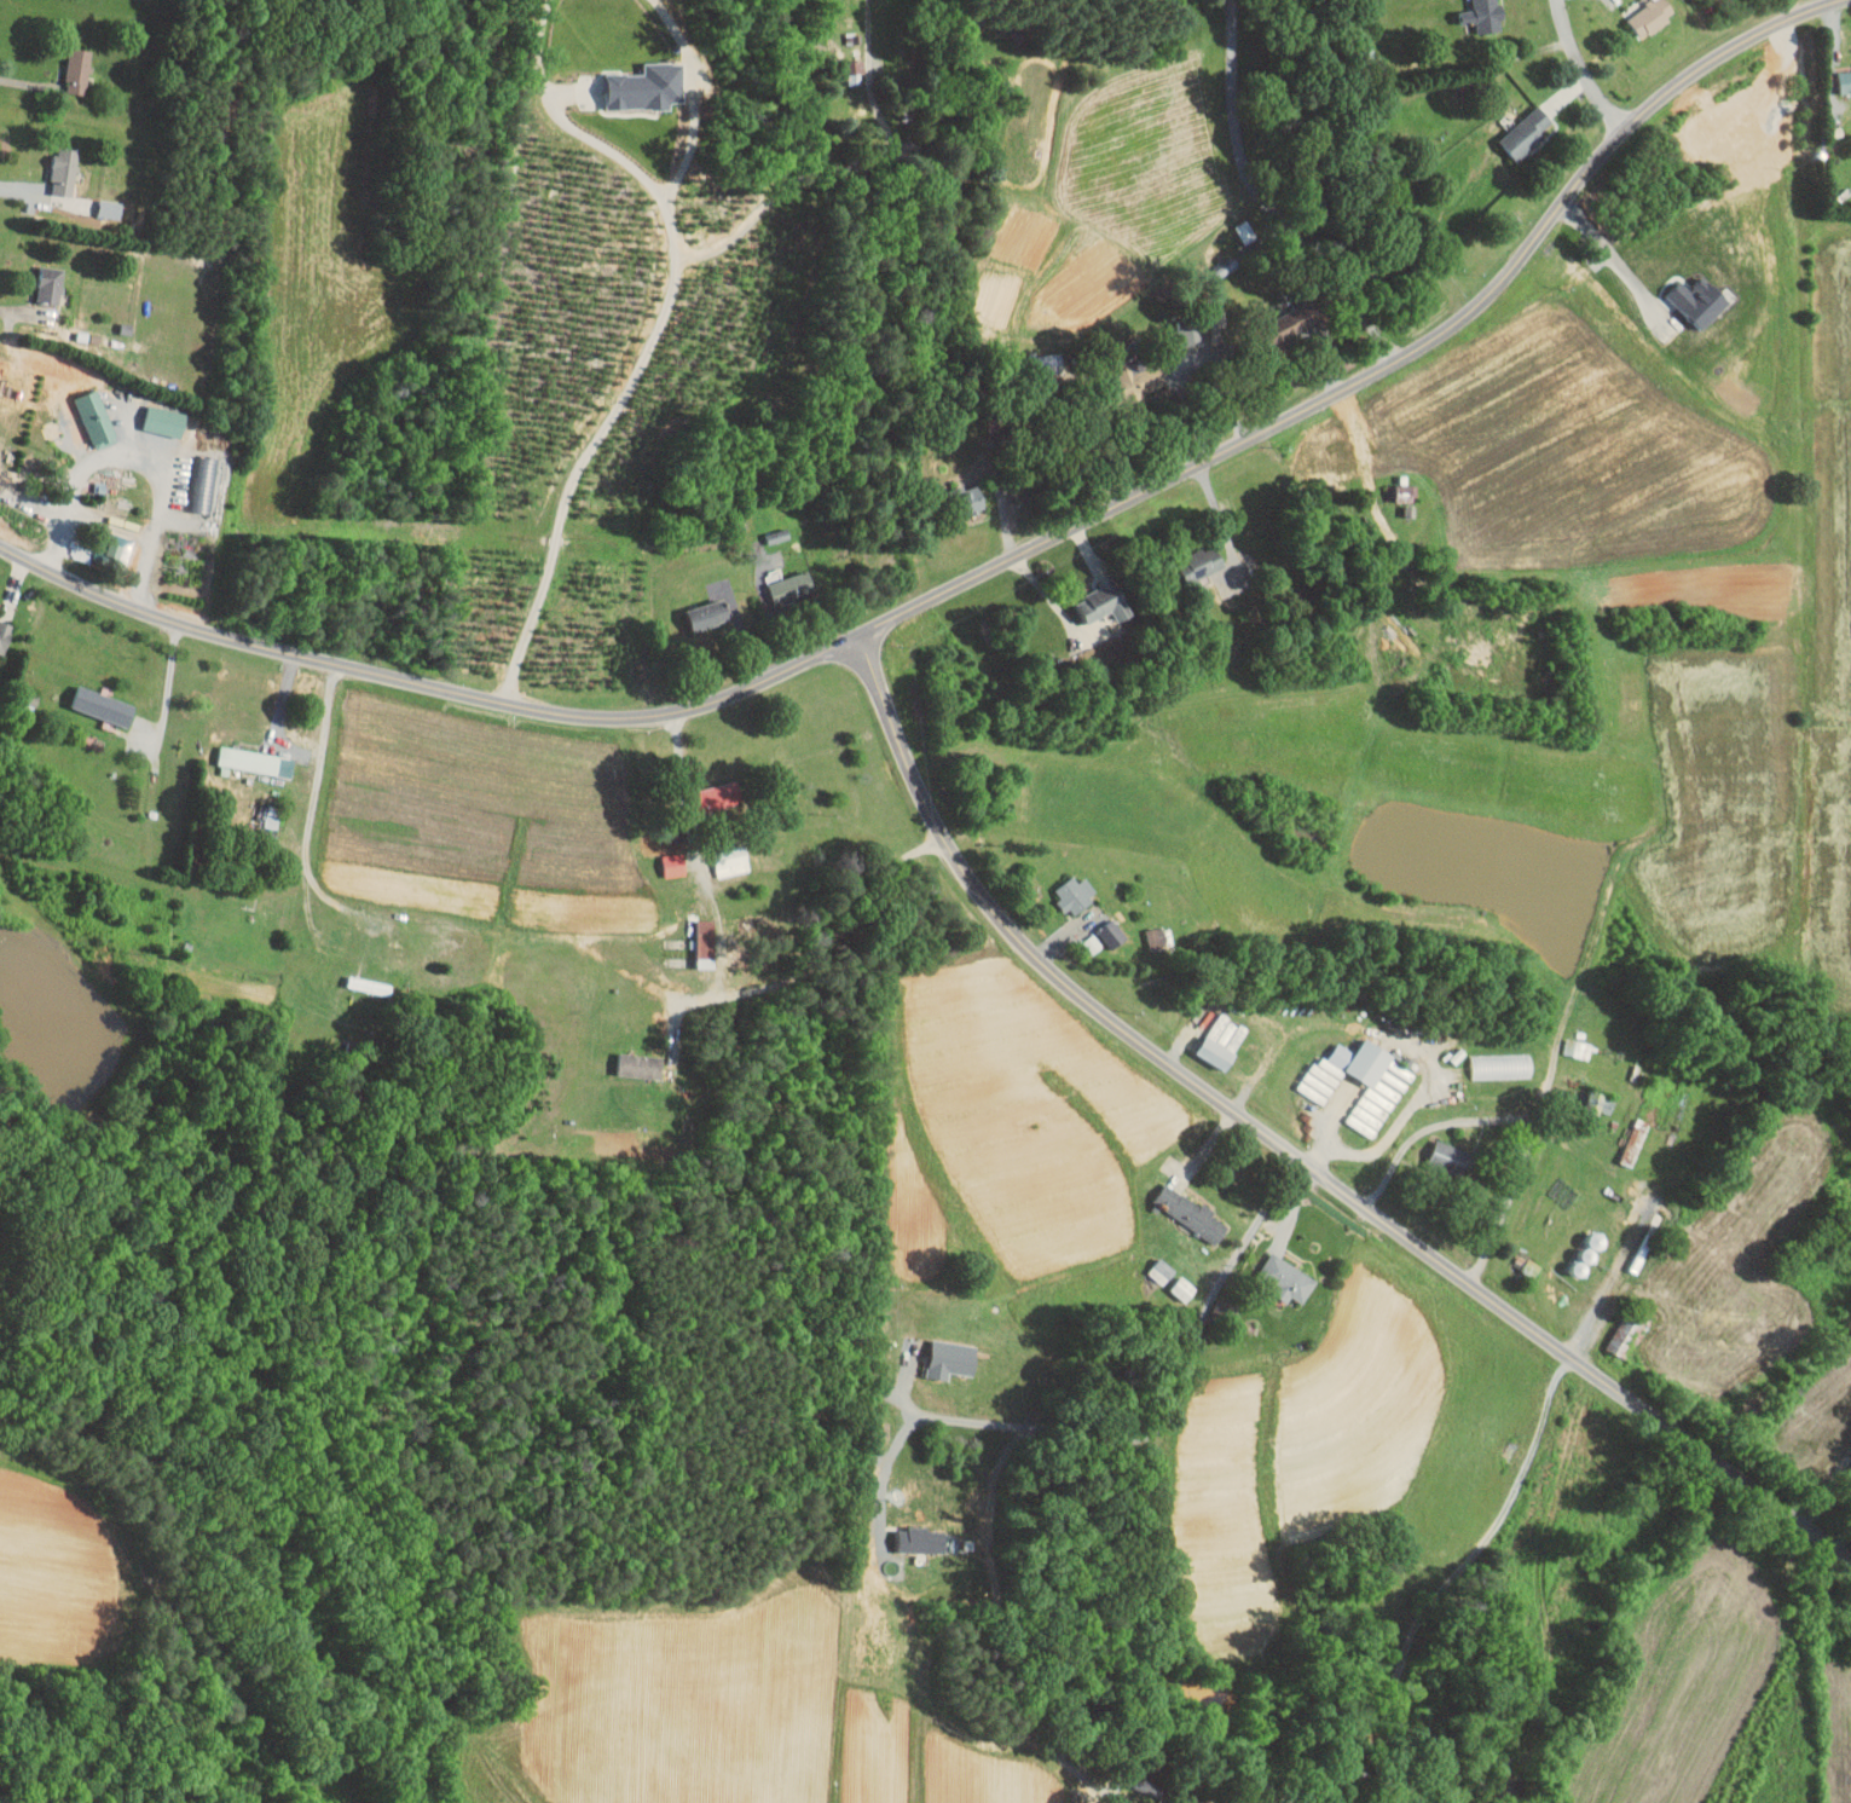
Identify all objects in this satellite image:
building: (1483, 15)
building: (1650, 16)
building: (65, 62)
road: (1581, 68)
building: (854, 70)
building: (1845, 81)
road: (28, 83)
building: (646, 85)
building: (1527, 132)
building: (53, 163)
road: (849, 167)
road: (19, 193)
road: (1263, 200)
building: (98, 201)
road: (1610, 259)
building: (37, 277)
road: (25, 312)
building: (1205, 329)
building: (1296, 331)
building: (1048, 363)
road: (640, 368)
building: (1140, 375)
building: (83, 410)
building: (152, 412)
road: (141, 447)
building: (202, 482)
building: (1400, 492)
building: (968, 498)
road: (112, 520)
building: (777, 536)
building: (103, 542)
building: (1202, 561)
road: (984, 571)
building: (783, 583)
building: (1101, 603)
building: (707, 613)
building: (0, 619)
road: (169, 686)
building: (91, 698)
building: (255, 761)
building: (717, 796)
road: (312, 808)
road: (699, 854)
building: (731, 861)
building: (673, 863)
building: (1075, 892)
building: (1111, 934)
building: (705, 943)
road: (817, 957)
building: (1227, 1031)
road: (1401, 1041)
building: (1578, 1047)
building: (1215, 1052)
building: (640, 1065)
building: (1500, 1065)
building: (1384, 1086)
building: (1600, 1102)
road: (1515, 1117)
road: (1329, 1119)
building: (1635, 1142)
road: (1291, 1150)
building: (1448, 1157)
building: (1191, 1213)
building: (1162, 1271)
building: (1286, 1278)
road: (1610, 1278)
building: (1182, 1289)
building: (1225, 1311)
building: (1629, 1335)
building: (951, 1357)
road: (1176, 1392)
road: (884, 1478)
building: (920, 1541)
road: (1435, 1594)

